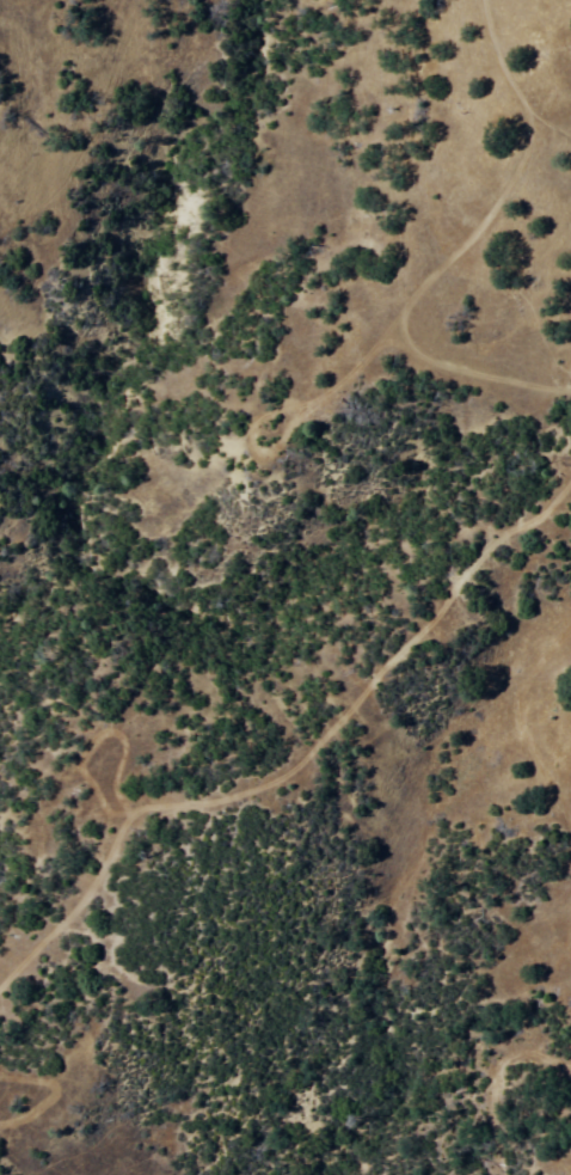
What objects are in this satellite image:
road: (447, 257)

